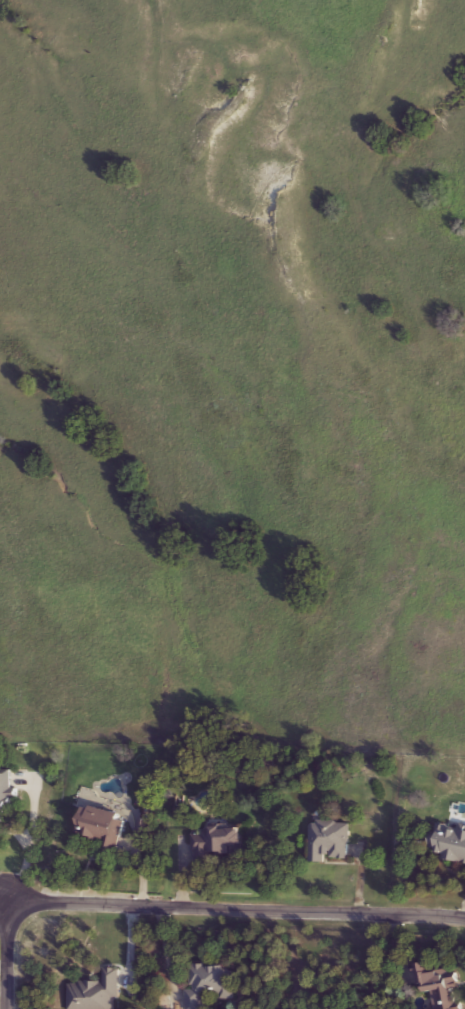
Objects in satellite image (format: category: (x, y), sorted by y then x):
building: (4, 800)
building: (102, 827)
building: (330, 841)
road: (28, 843)
building: (216, 844)
building: (449, 844)
road: (193, 909)
building: (209, 984)
building: (439, 990)
building: (95, 992)

